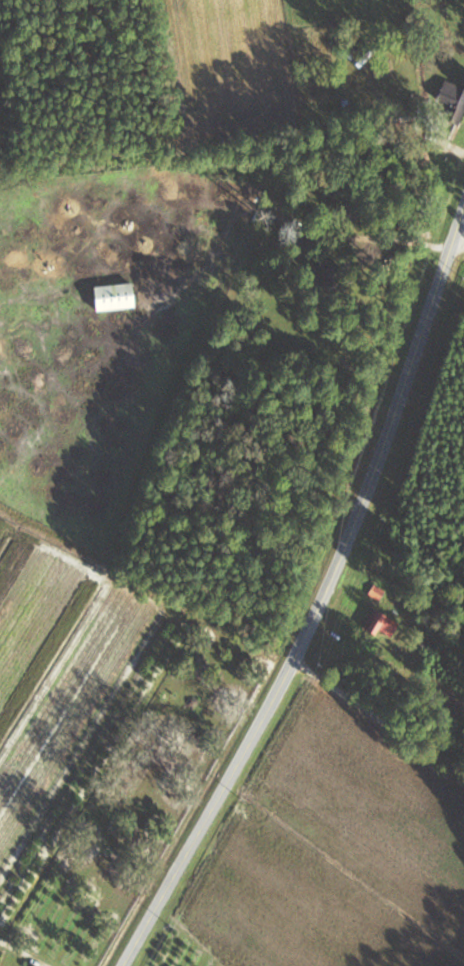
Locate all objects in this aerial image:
building: (451, 100)
road: (460, 234)
building: (111, 297)
building: (374, 592)
road: (320, 599)
building: (381, 624)
road: (365, 661)
road: (25, 951)

